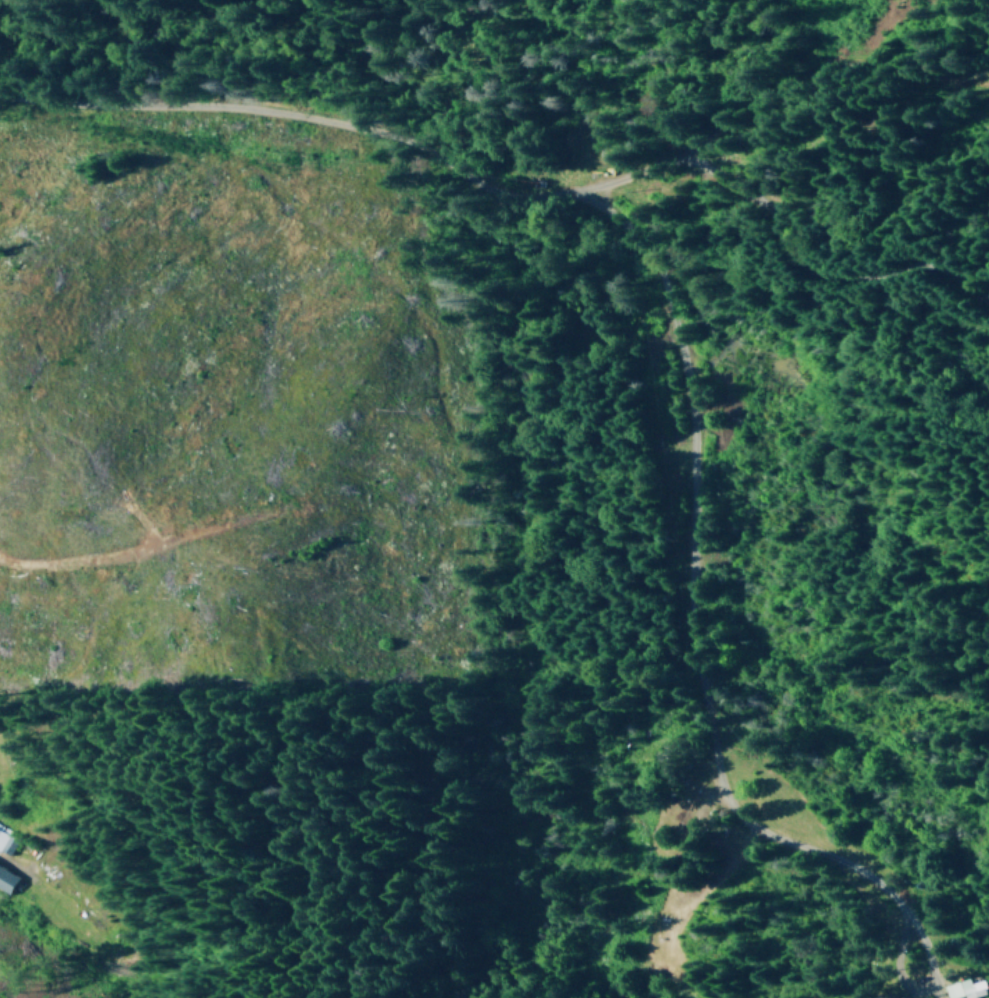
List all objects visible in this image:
road: (659, 297)
building: (6, 840)
building: (6, 880)
building: (956, 987)

